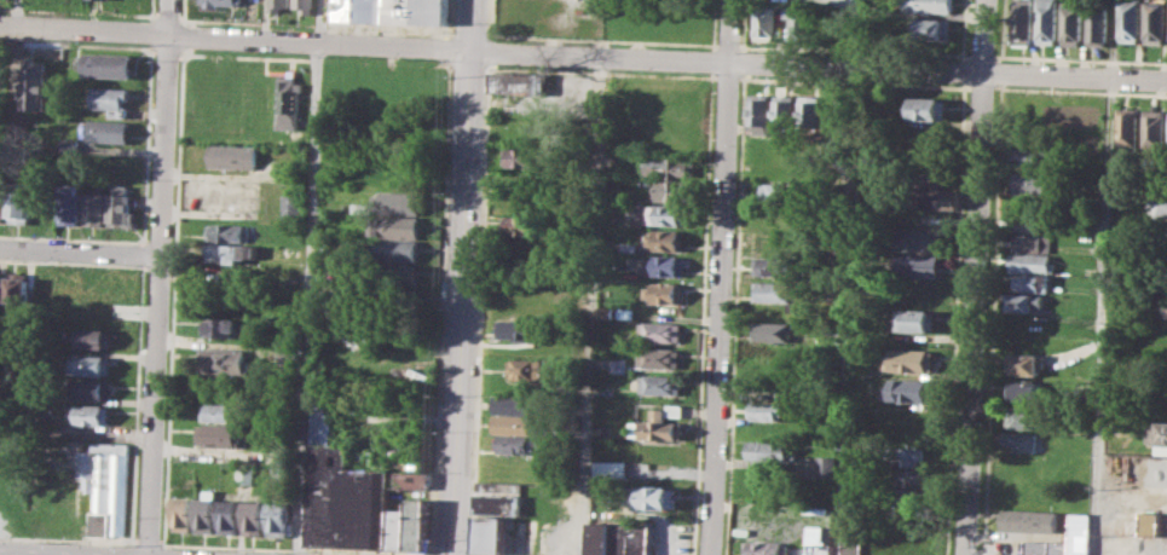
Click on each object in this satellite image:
building: (214, 2)
building: (277, 4)
building: (304, 6)
building: (928, 6)
building: (393, 11)
road: (18, 13)
building: (766, 21)
building: (1022, 21)
building: (1046, 21)
building: (1130, 21)
building: (1156, 21)
building: (1073, 22)
building: (802, 24)
building: (1098, 25)
building: (934, 29)
road: (583, 56)
building: (105, 64)
building: (520, 83)
building: (34, 86)
building: (108, 98)
building: (288, 100)
building: (929, 108)
building: (787, 110)
building: (813, 110)
building: (762, 111)
building: (1128, 126)
building: (1154, 127)
building: (104, 129)
building: (232, 155)
building: (522, 157)
building: (1028, 157)
building: (671, 167)
building: (931, 177)
building: (1033, 183)
building: (671, 190)
building: (780, 191)
building: (938, 198)
building: (1, 200)
building: (22, 201)
building: (69, 202)
building: (392, 203)
building: (92, 206)
building: (119, 207)
building: (1162, 207)
building: (291, 208)
building: (665, 214)
building: (774, 215)
building: (1034, 221)
building: (525, 225)
building: (394, 226)
building: (1163, 229)
building: (227, 231)
building: (668, 238)
building: (919, 238)
building: (772, 239)
building: (1034, 242)
building: (395, 249)
road: (80, 250)
building: (229, 253)
building: (1034, 262)
building: (919, 264)
building: (664, 265)
building: (772, 265)
building: (395, 276)
road: (160, 277)
road: (310, 277)
road: (462, 277)
road: (720, 277)
road: (845, 277)
road: (974, 277)
building: (1032, 282)
building: (17, 289)
building: (666, 291)
building: (774, 291)
building: (1024, 302)
road: (591, 306)
building: (1162, 306)
building: (606, 312)
building: (625, 313)
road: (1103, 317)
building: (915, 319)
building: (218, 325)
building: (521, 328)
building: (660, 330)
building: (773, 331)
building: (93, 337)
building: (289, 354)
building: (659, 357)
building: (912, 359)
building: (225, 360)
building: (1026, 363)
building: (89, 364)
building: (619, 364)
building: (526, 370)
building: (660, 383)
building: (87, 387)
building: (909, 389)
building: (1026, 389)
building: (513, 403)
building: (674, 410)
building: (764, 410)
building: (215, 411)
building: (658, 412)
building: (88, 415)
building: (324, 417)
building: (1023, 417)
building: (906, 421)
building: (513, 423)
building: (662, 429)
building: (1156, 433)
building: (218, 435)
building: (1024, 441)
building: (514, 444)
building: (768, 450)
building: (906, 455)
building: (825, 466)
building: (610, 468)
building: (909, 476)
building: (410, 480)
building: (104, 484)
building: (499, 487)
building: (652, 497)
building: (913, 497)
building: (346, 499)
building: (499, 504)
building: (207, 511)
building: (183, 514)
building: (230, 516)
building: (254, 518)
building: (278, 519)
building: (1030, 520)
building: (417, 524)
building: (1154, 524)
building: (397, 528)
building: (1080, 533)
building: (490, 534)
road: (68, 538)
building: (619, 538)
building: (900, 538)
road: (146, 539)
building: (853, 540)
building: (764, 547)
road: (290, 548)
building: (819, 548)
building: (1036, 548)
building: (1059, 548)

